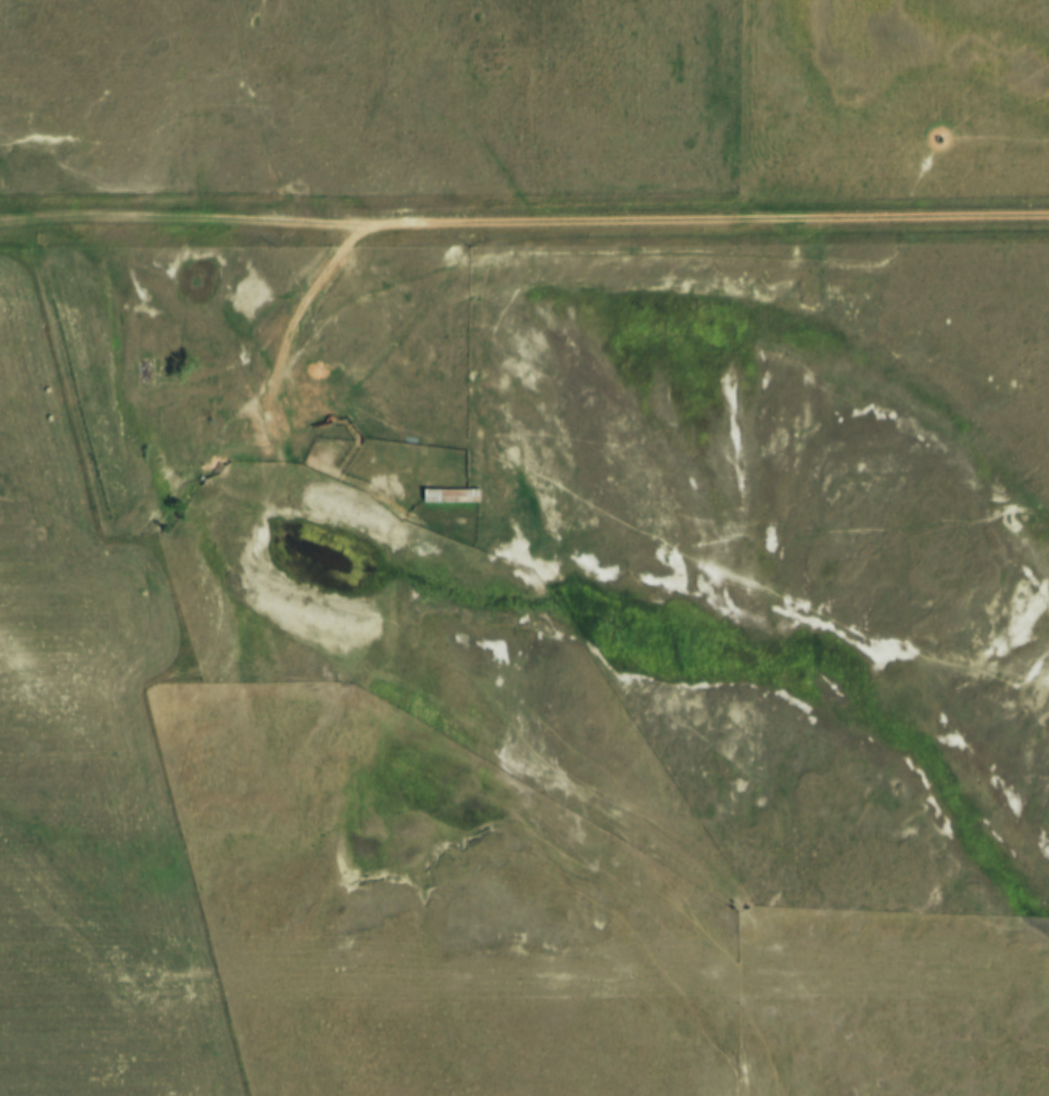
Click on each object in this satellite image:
road: (524, 225)
road: (295, 321)
building: (447, 497)

